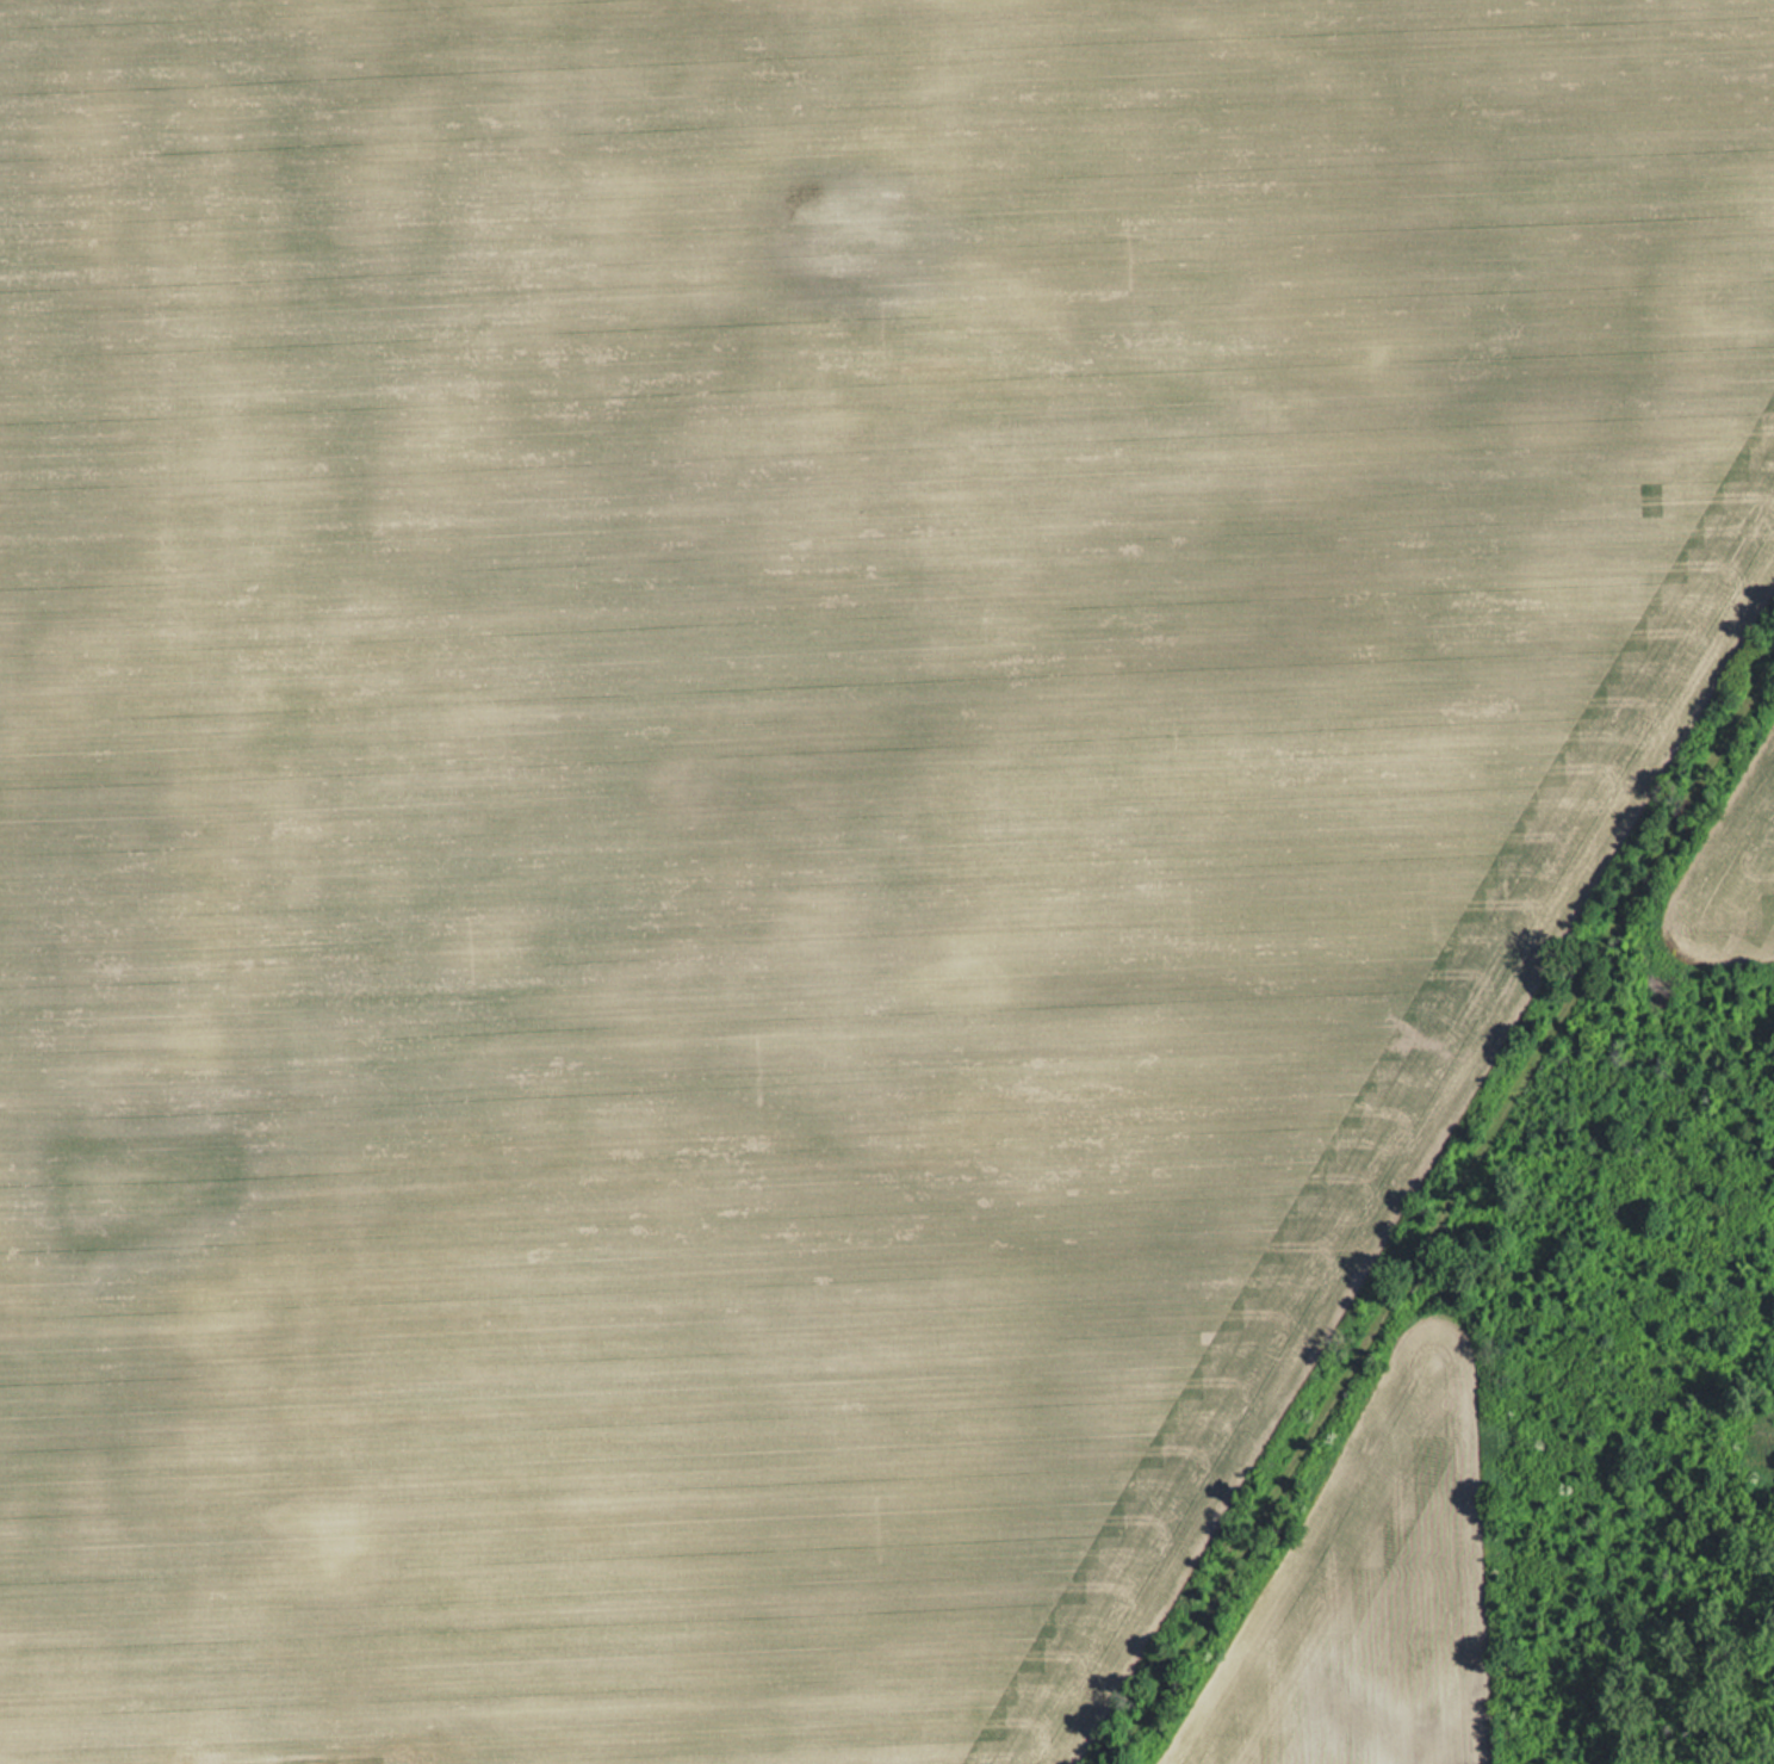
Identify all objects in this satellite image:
road: (1443, 1214)

